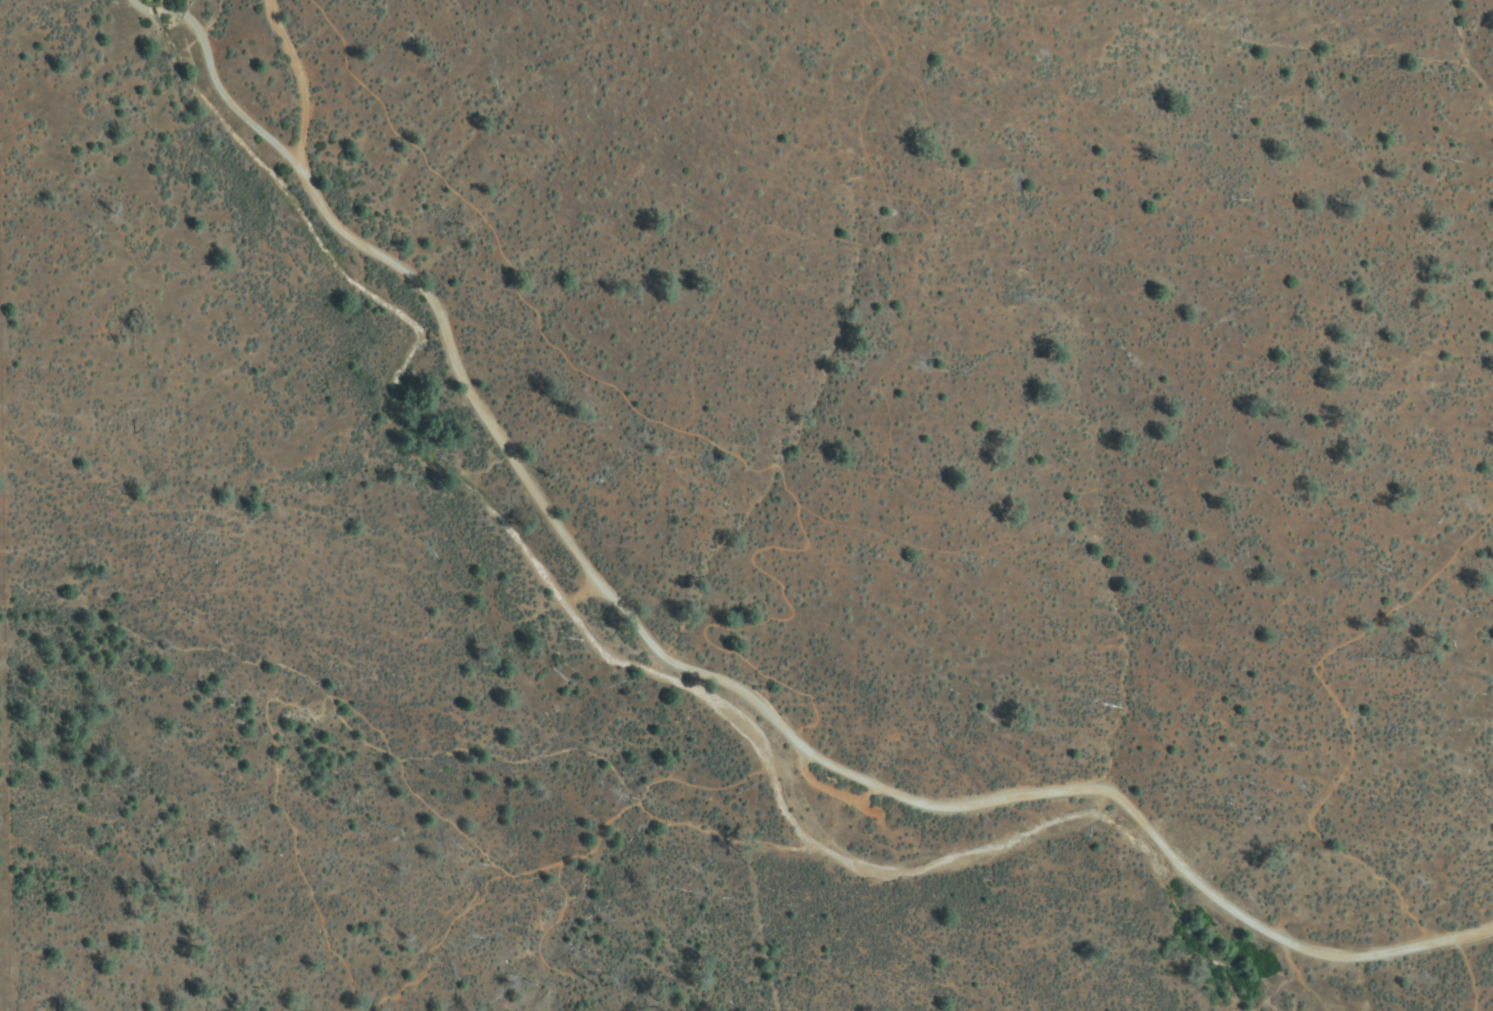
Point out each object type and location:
road: (307, 79)
road: (693, 669)
road: (1352, 757)

